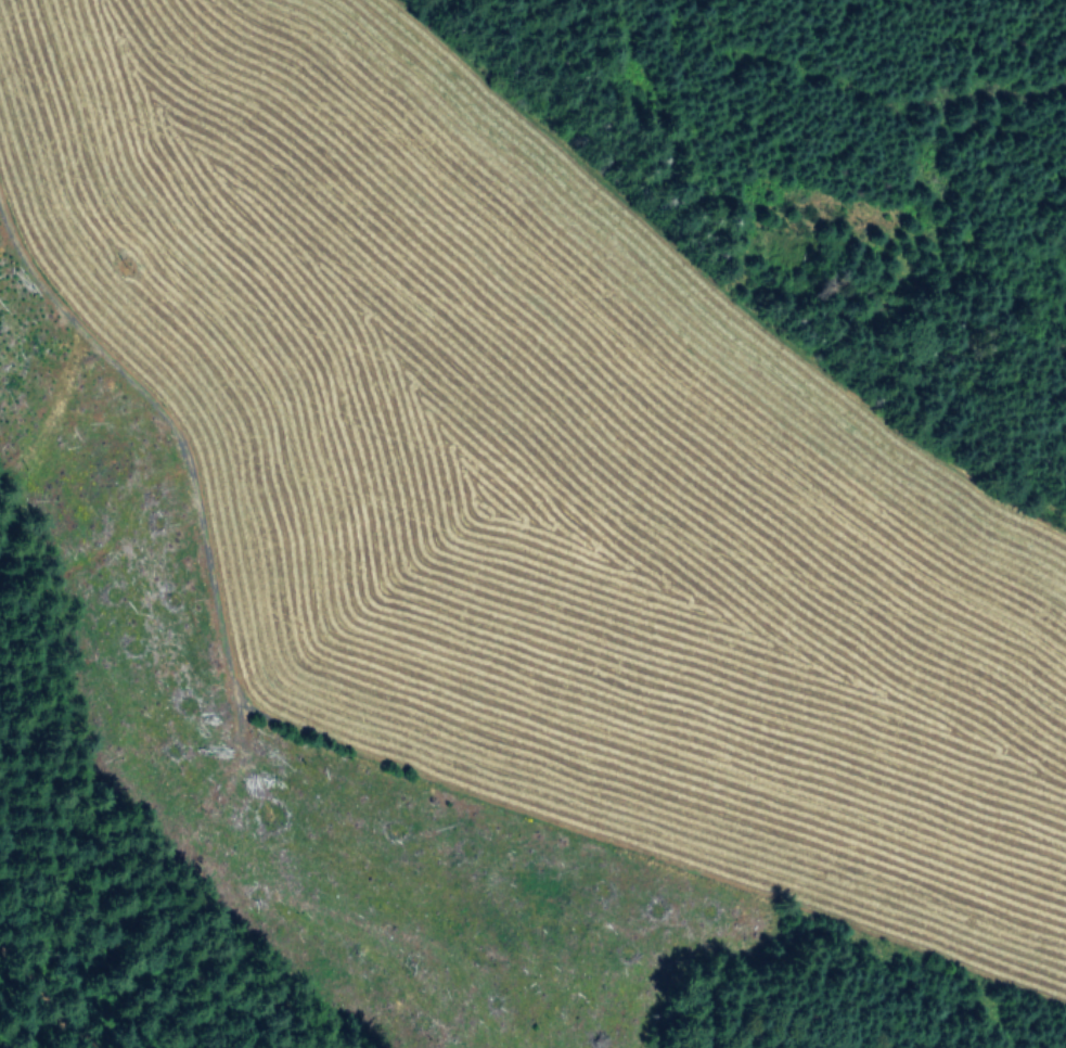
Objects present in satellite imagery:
crop: (522, 455)

